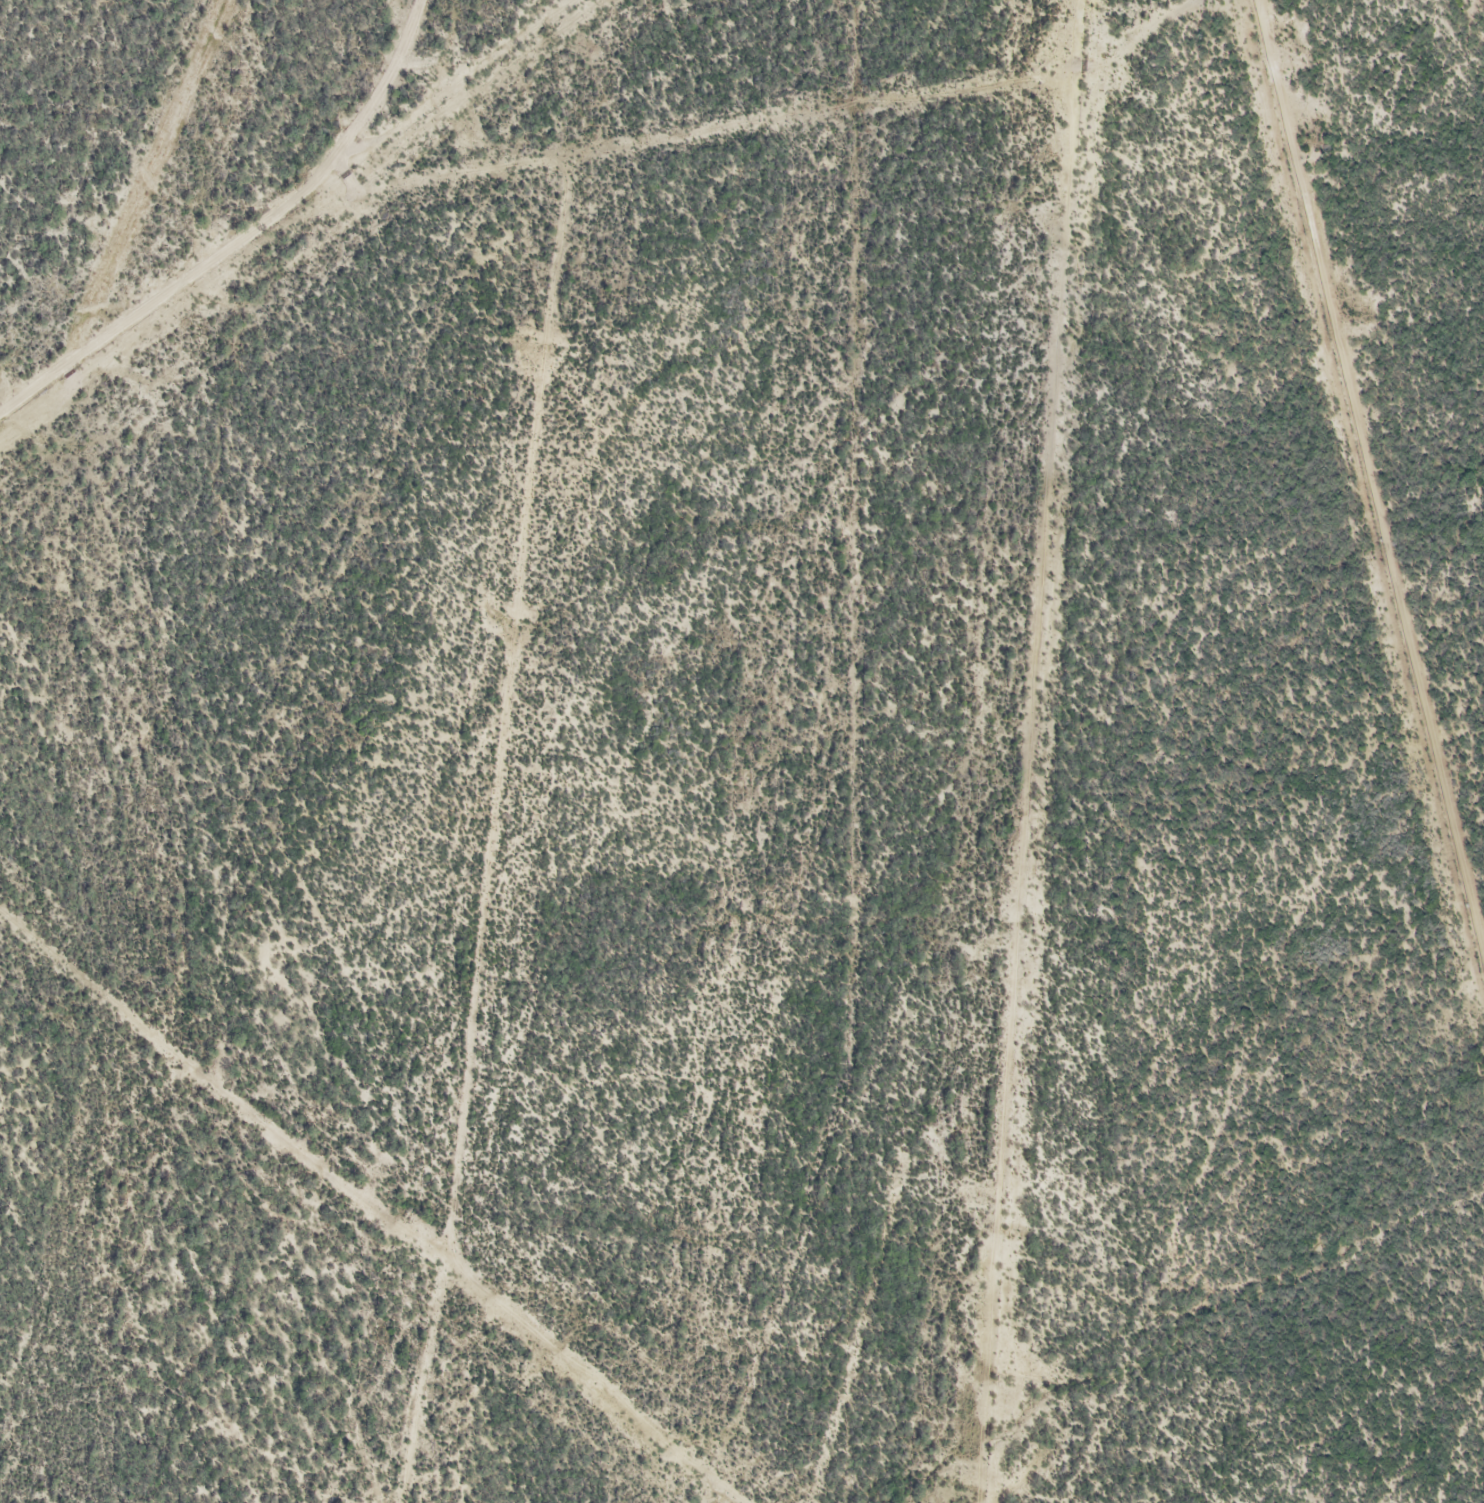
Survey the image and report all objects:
road: (240, 228)

